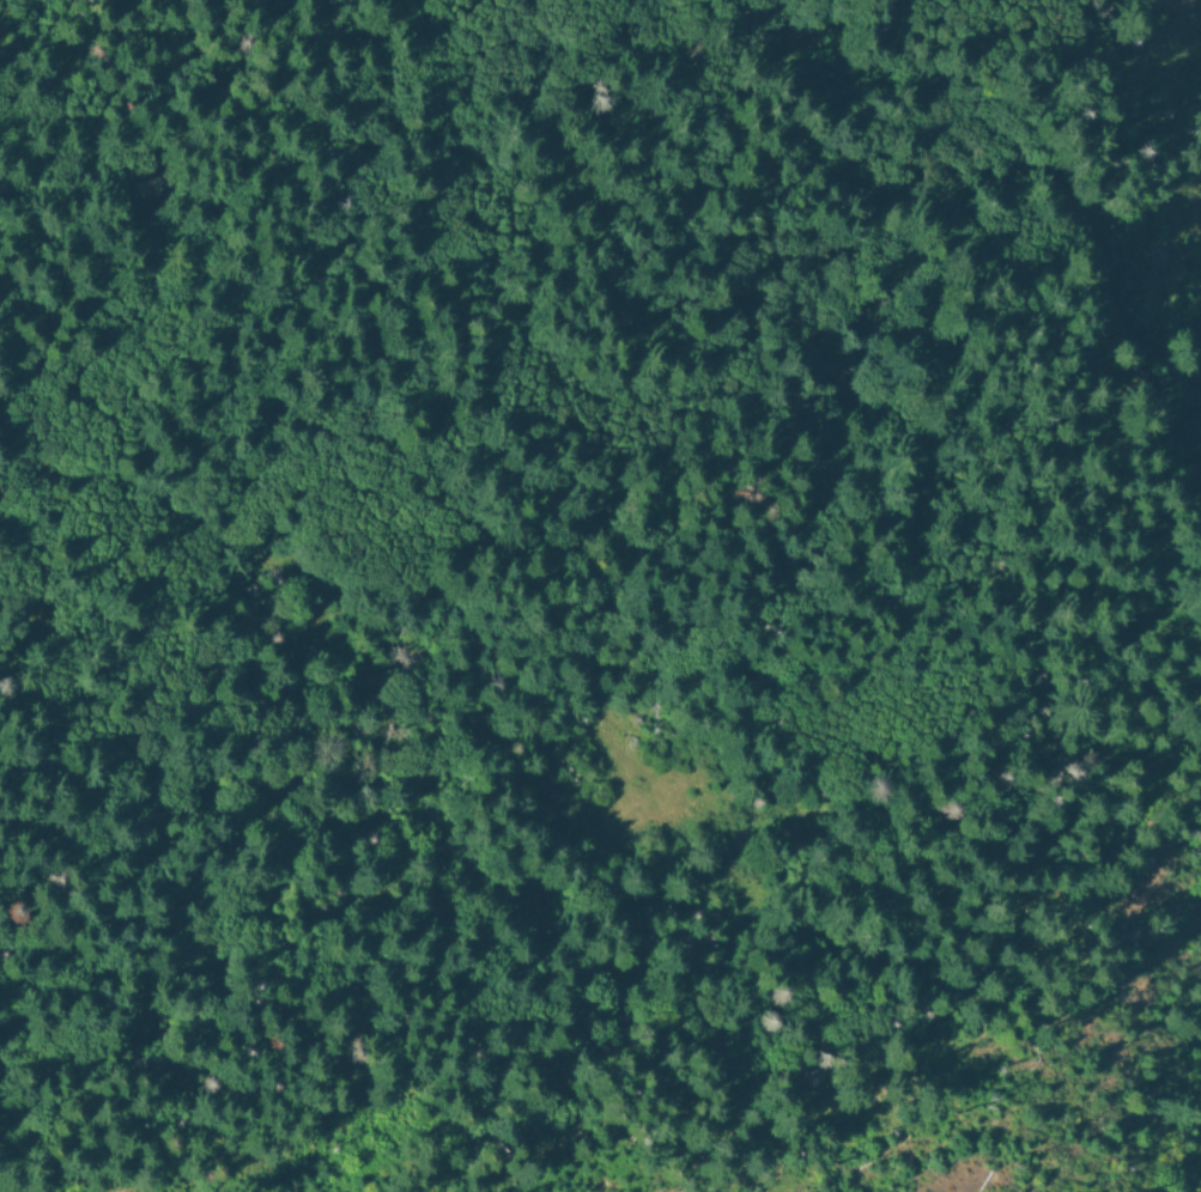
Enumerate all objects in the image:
road: (235, 567)

